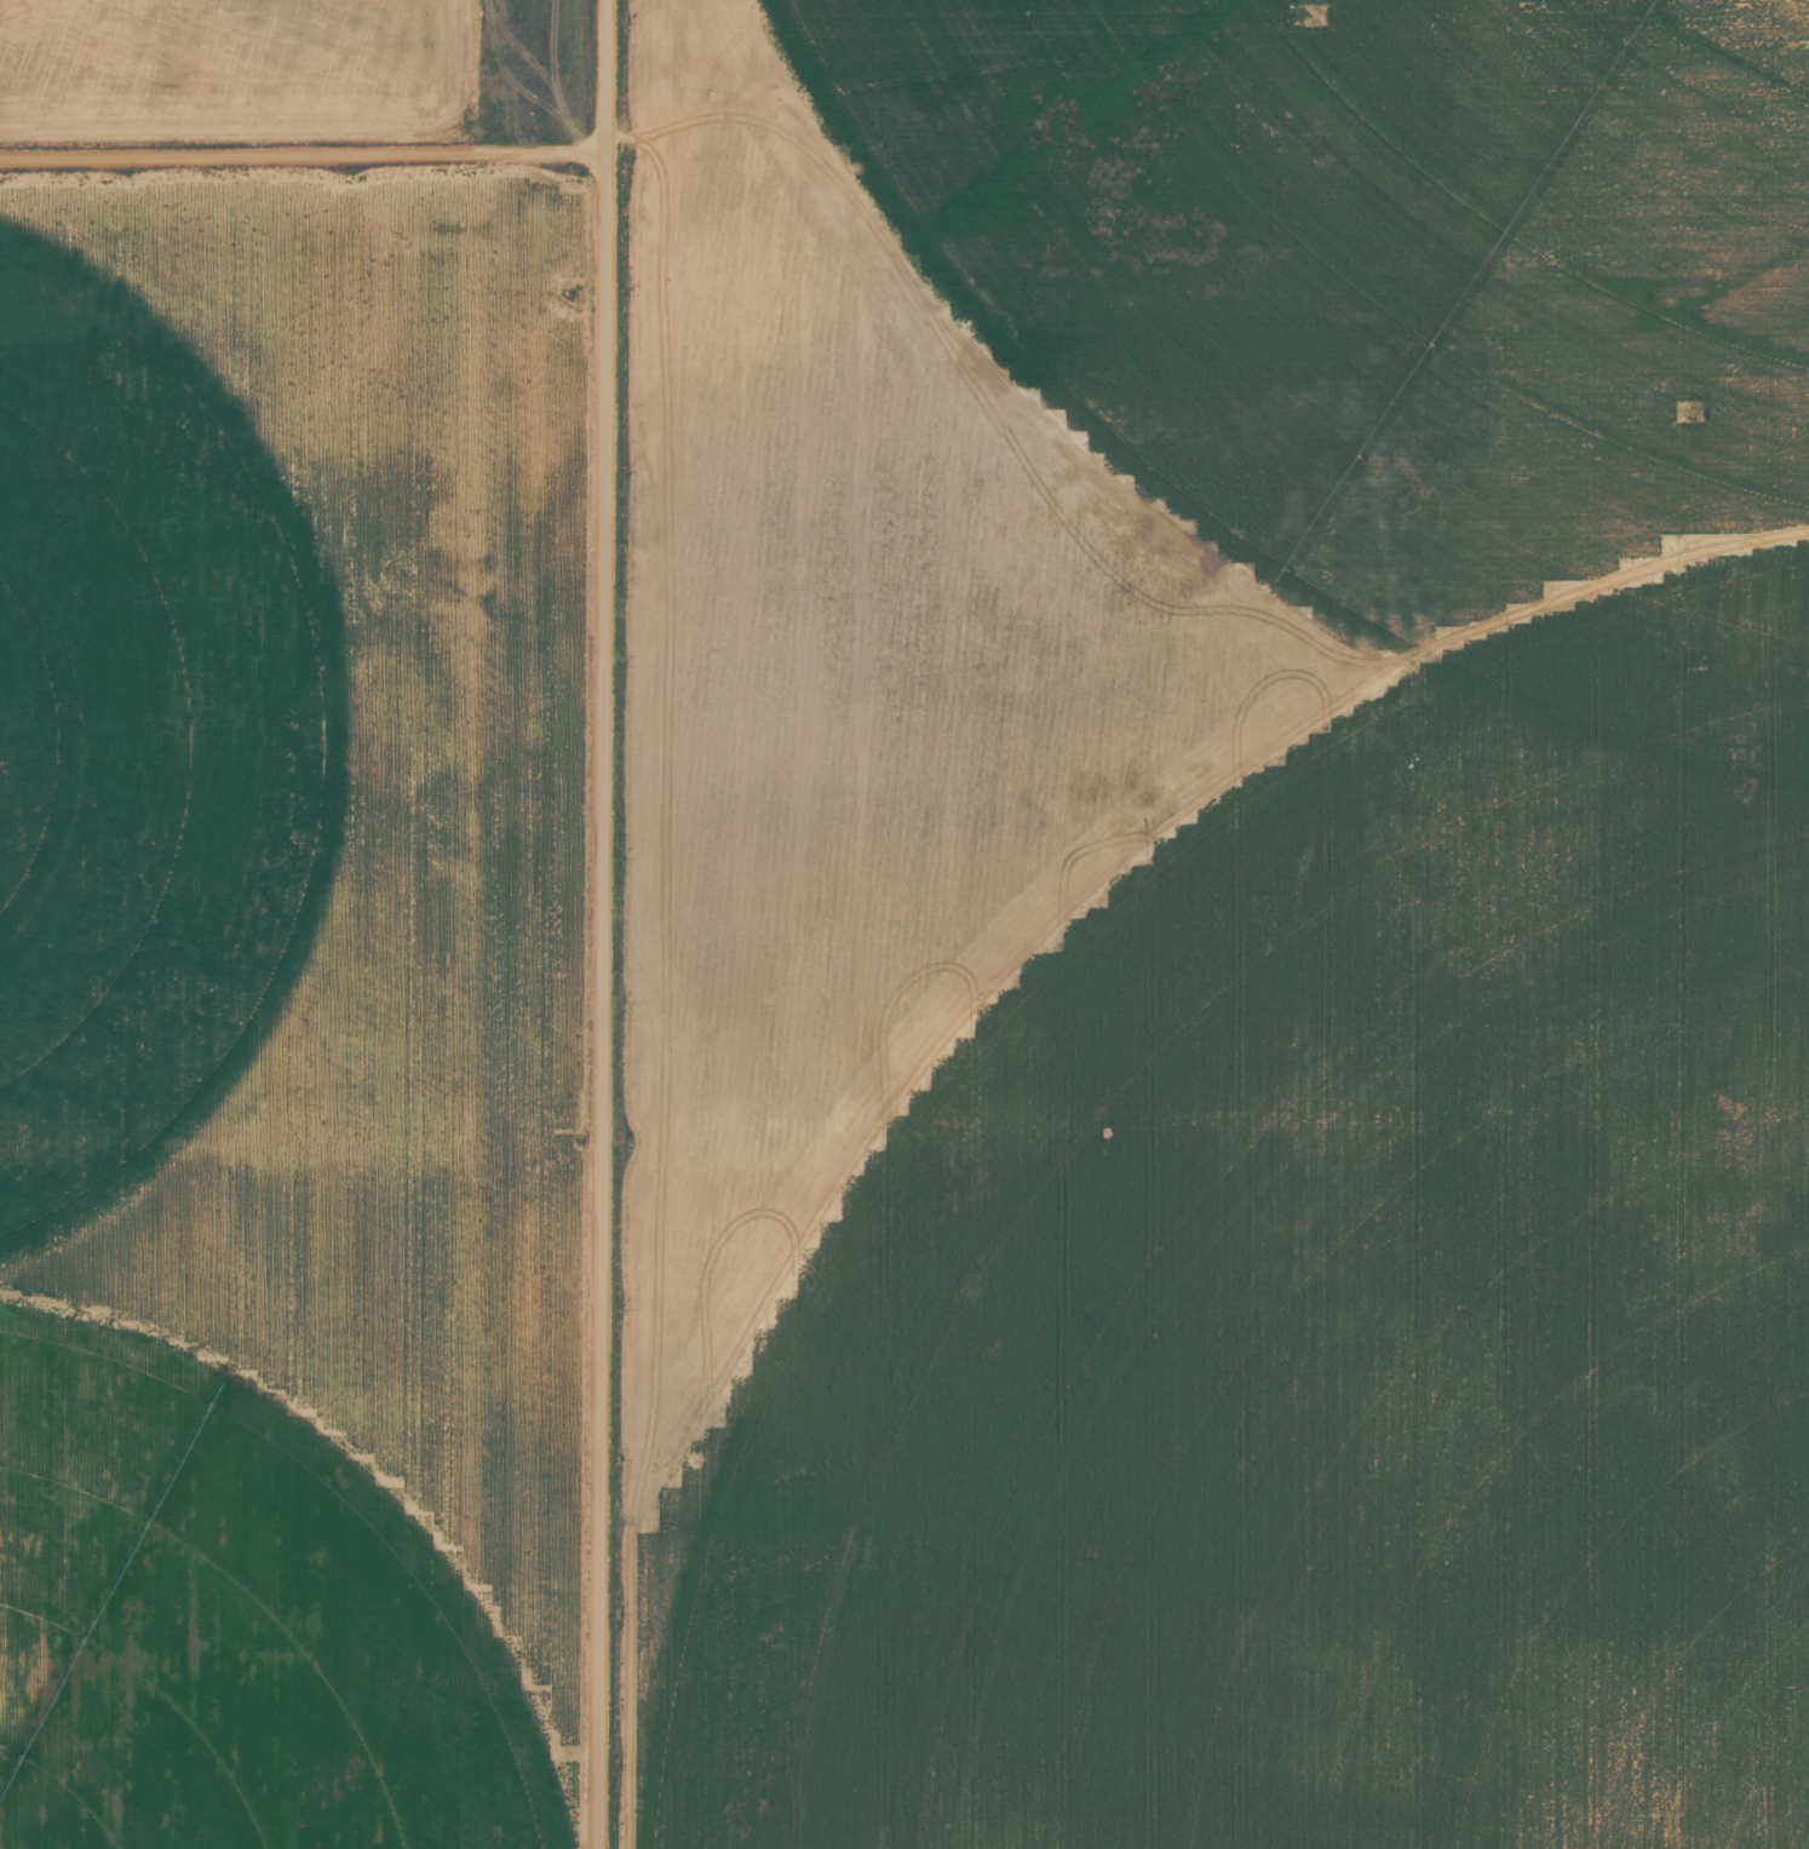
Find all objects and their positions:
road: (292, 165)
road: (584, 924)
road: (292, 1142)

